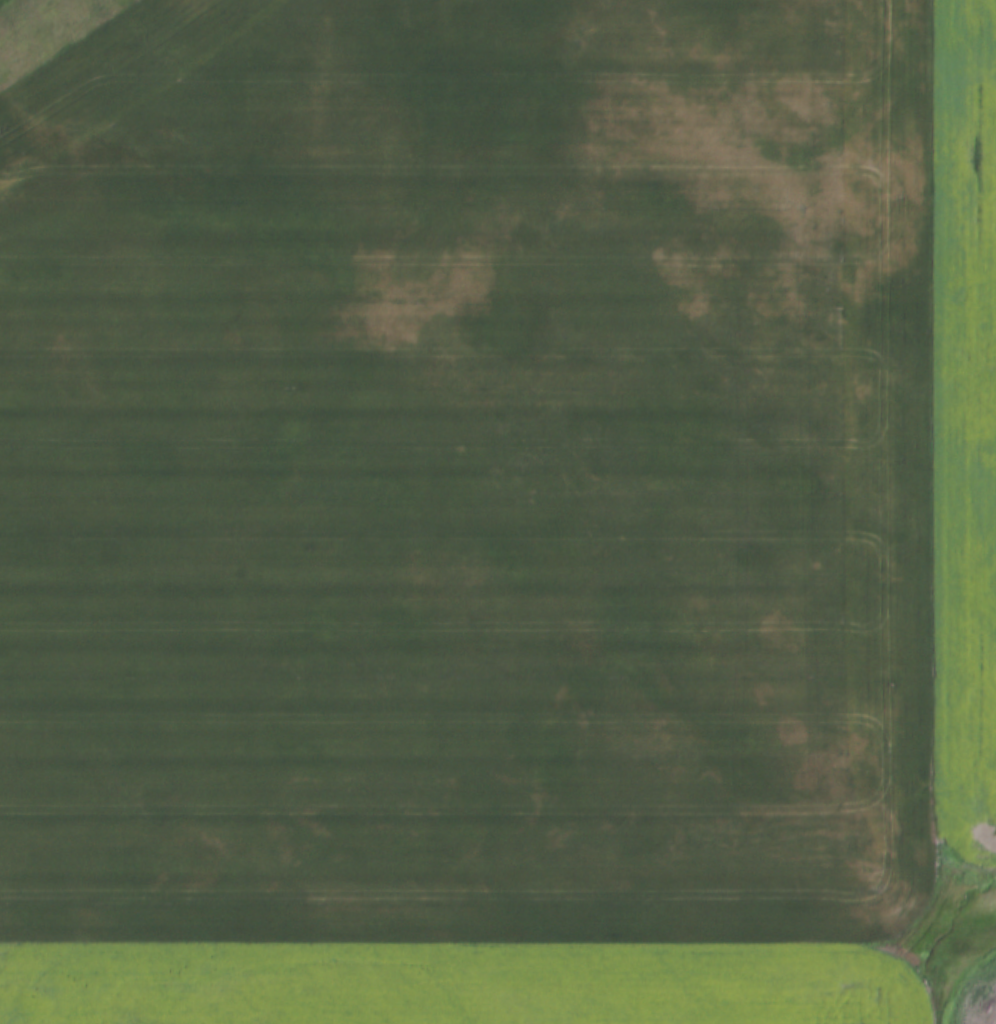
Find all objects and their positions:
road: (440, 937)

